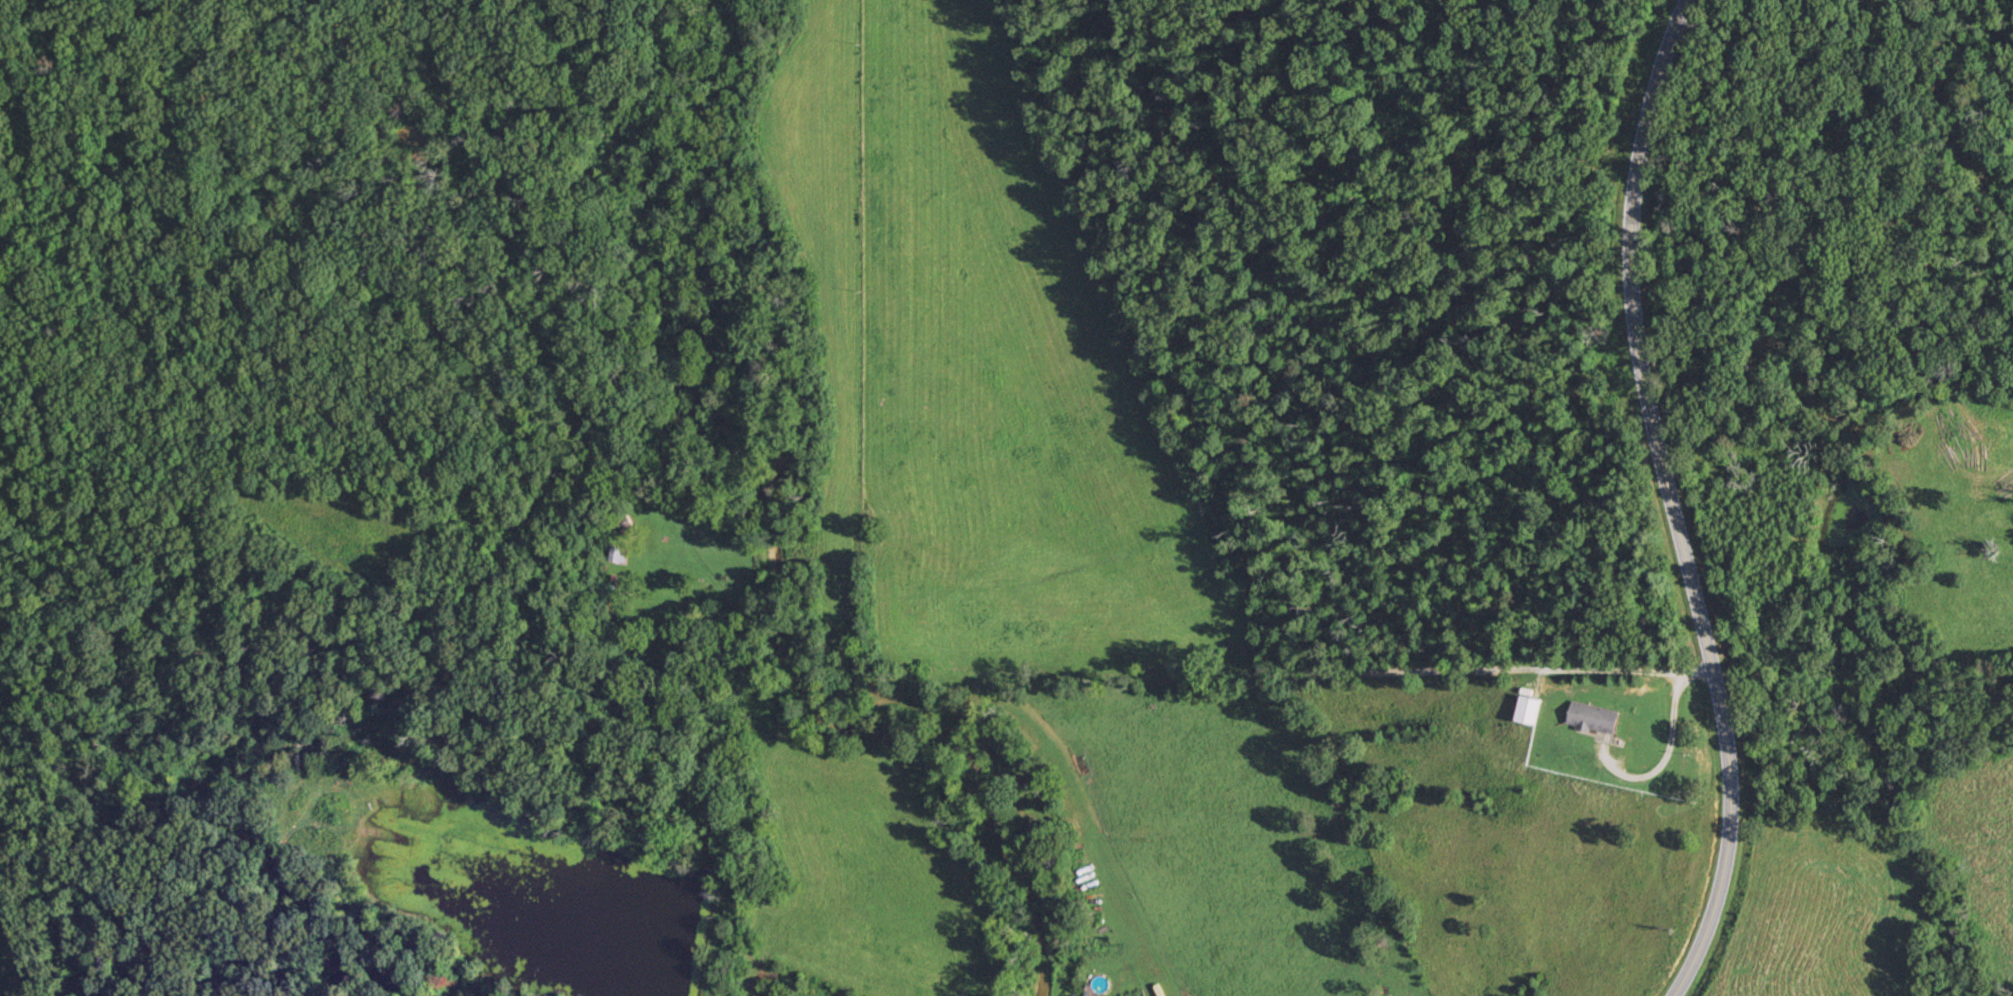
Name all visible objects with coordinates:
road: (1674, 335)
building: (616, 554)
road: (1175, 685)
building: (1527, 710)
building: (1592, 717)
road: (1661, 765)
road: (1723, 837)

